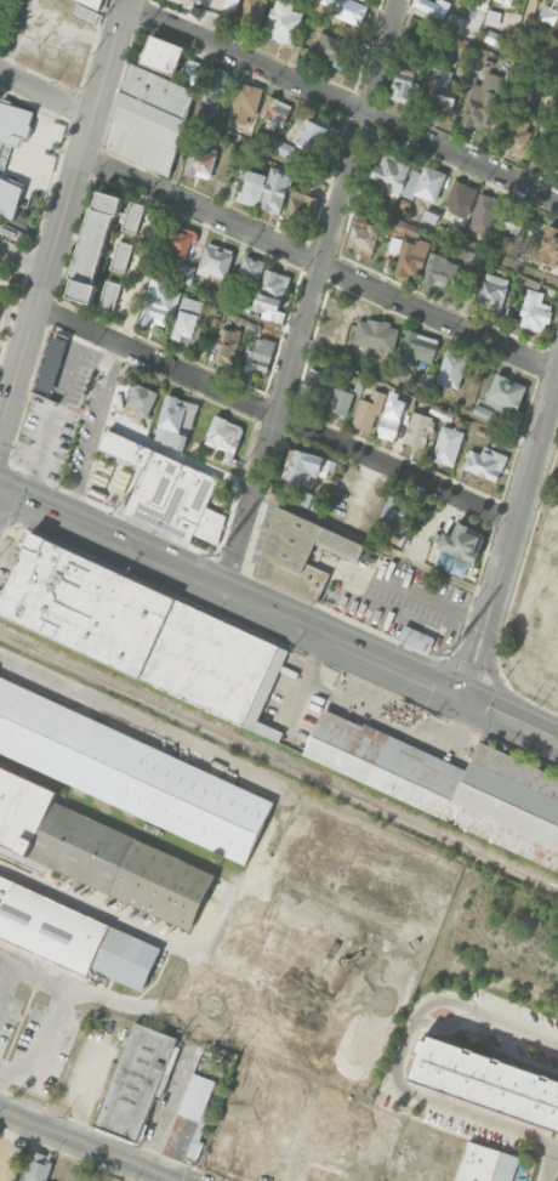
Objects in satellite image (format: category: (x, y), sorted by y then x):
building: (508, 0)
building: (181, 1)
building: (95, 2)
building: (480, 4)
building: (429, 6)
building: (351, 10)
building: (548, 12)
building: (85, 13)
building: (252, 13)
road: (39, 17)
building: (492, 17)
park: (5, 18)
building: (283, 22)
building: (336, 49)
building: (163, 55)
building: (192, 69)
building: (405, 78)
building: (216, 86)
road: (46, 92)
building: (438, 92)
building: (246, 97)
building: (480, 98)
road: (342, 102)
building: (275, 109)
building: (148, 118)
building: (13, 123)
building: (513, 129)
building: (313, 135)
building: (281, 147)
building: (554, 159)
building: (199, 161)
building: (391, 175)
building: (429, 182)
building: (252, 187)
building: (275, 188)
building: (461, 198)
building: (301, 206)
building: (484, 212)
building: (132, 216)
road: (62, 220)
building: (507, 222)
building: (400, 226)
building: (412, 232)
building: (364, 235)
building: (176, 242)
building: (548, 243)
building: (395, 244)
building: (92, 245)
building: (411, 255)
building: (121, 256)
road: (23, 259)
building: (474, 260)
building: (215, 261)
road: (319, 265)
building: (439, 268)
road: (144, 269)
building: (249, 271)
building: (186, 273)
building: (269, 291)
road: (312, 294)
building: (491, 294)
building: (109, 295)
building: (155, 307)
building: (534, 310)
building: (184, 323)
building: (252, 327)
building: (375, 334)
building: (227, 345)
building: (416, 347)
building: (257, 354)
building: (57, 360)
building: (451, 368)
building: (318, 387)
building: (506, 391)
building: (340, 402)
building: (135, 404)
building: (368, 409)
building: (440, 411)
building: (483, 411)
road: (277, 415)
building: (172, 422)
building: (389, 424)
building: (419, 428)
road: (95, 430)
building: (221, 433)
building: (448, 445)
building: (485, 462)
building: (308, 466)
road: (125, 487)
building: (167, 492)
road: (23, 511)
building: (394, 512)
building: (460, 541)
road: (512, 541)
building: (300, 552)
power tower: (216, 553)
road: (355, 578)
road: (278, 613)
building: (143, 631)
building: (415, 638)
power tower: (446, 647)
traffic signals: (466, 698)
road: (95, 704)
railway: (279, 759)
building: (129, 772)
building: (450, 784)
road: (368, 829)
road: (273, 836)
building: (98, 852)
building: (358, 878)
building: (72, 937)
road: (192, 947)
building: (317, 954)
road: (6, 981)
road: (220, 981)
road: (89, 995)
road: (294, 1040)
road: (41, 1050)
road: (0, 1068)
road: (397, 1075)
building: (136, 1081)
building: (488, 1081)
building: (190, 1120)
road: (8, 1136)
road: (92, 1142)
building: (372, 1145)
building: (485, 1164)
building: (36, 1168)

